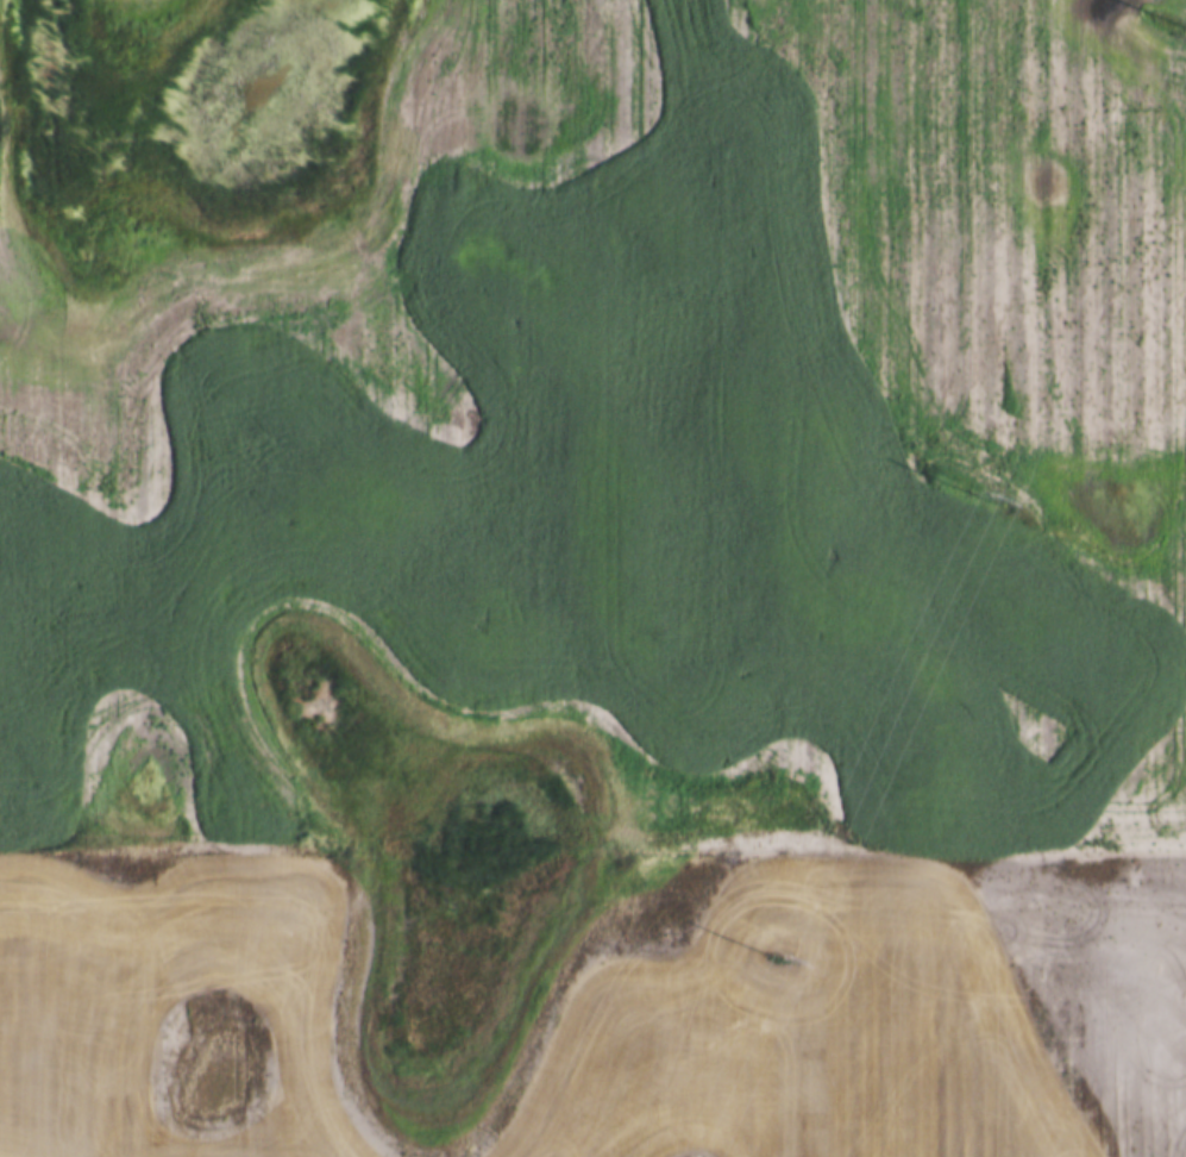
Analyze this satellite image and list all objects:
power tower: (1185, 27)
power tower: (978, 492)
power tower: (772, 957)

